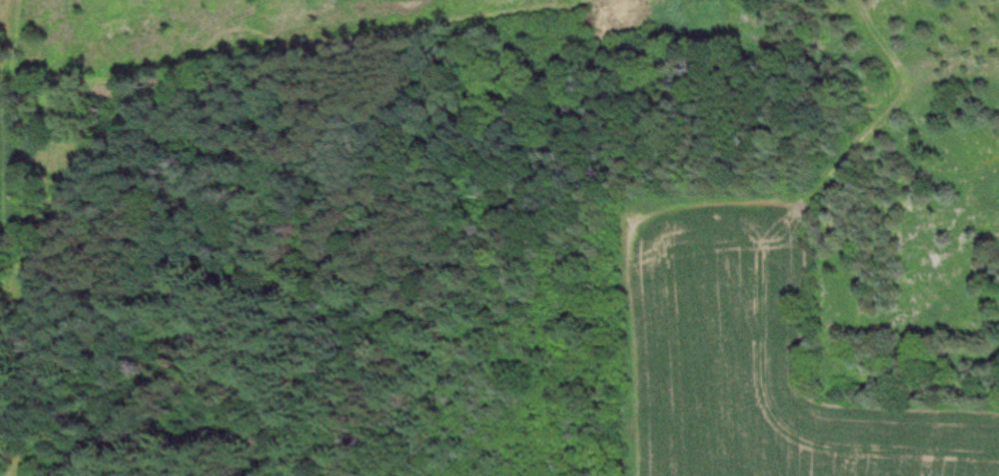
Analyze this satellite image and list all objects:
road: (273, 37)
road: (891, 108)
road: (7, 238)
crop: (809, 300)

